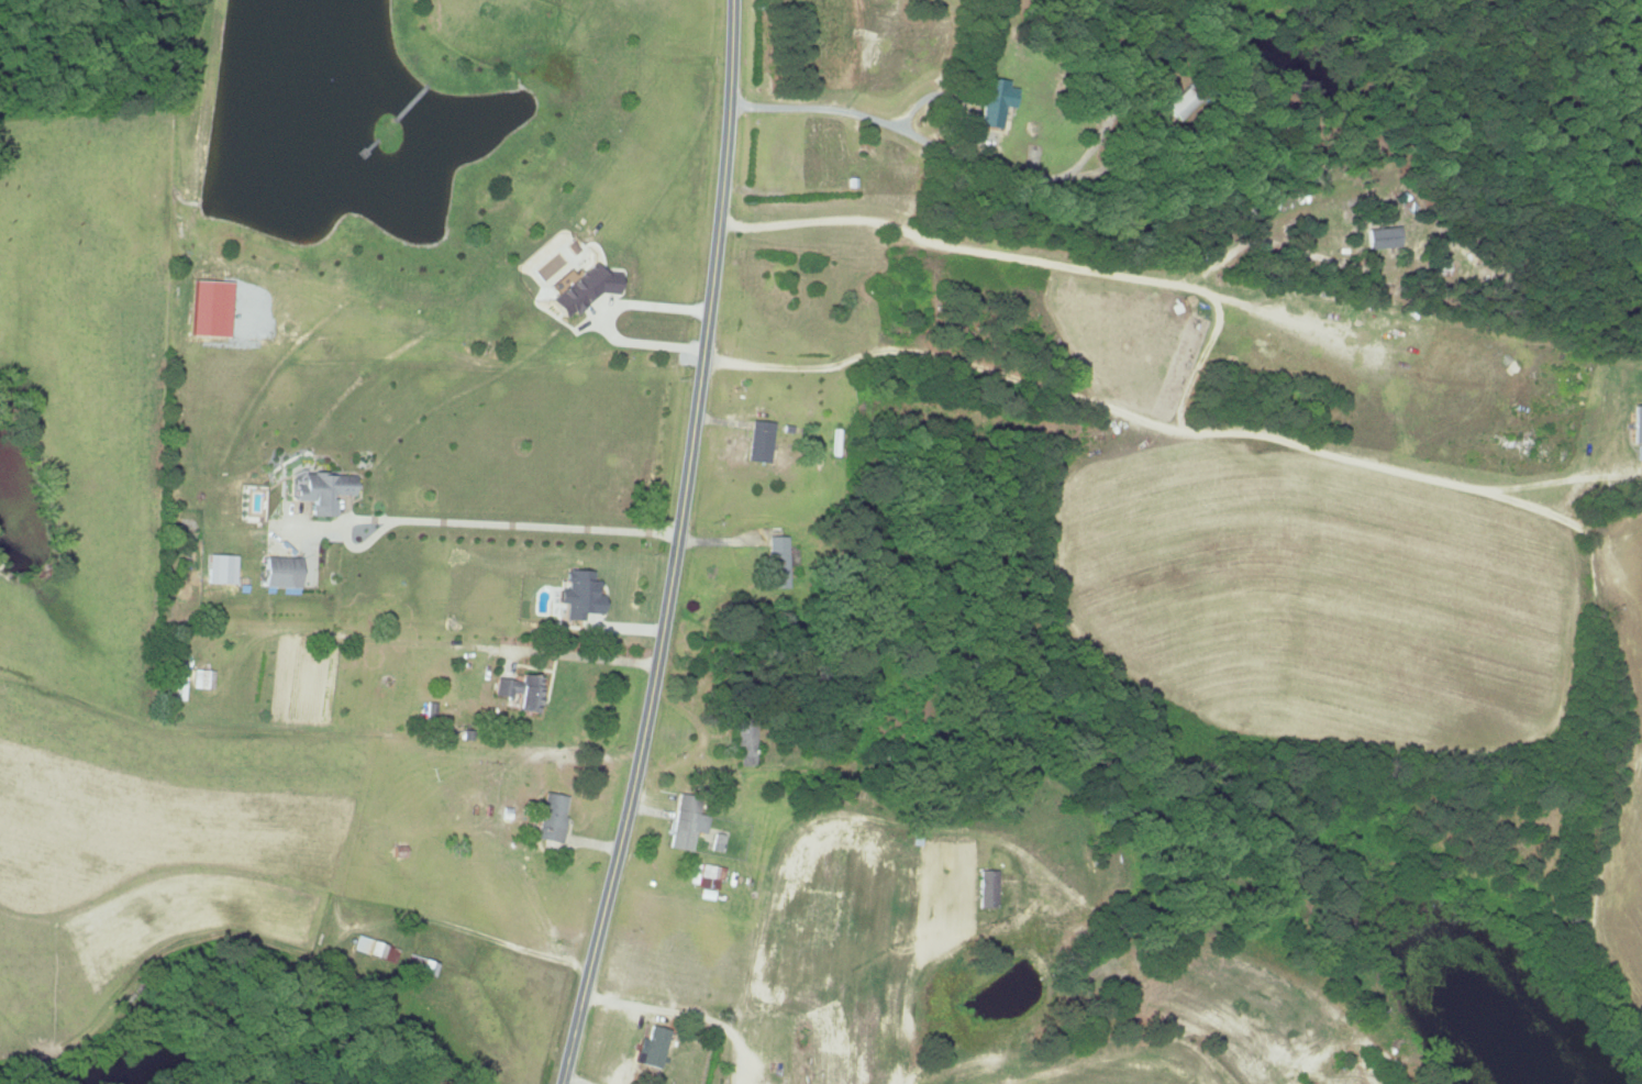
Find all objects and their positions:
building: (997, 101)
road: (1005, 169)
building: (1383, 237)
road: (1032, 259)
building: (581, 289)
building: (208, 308)
road: (609, 320)
road: (1206, 350)
road: (1152, 421)
building: (1638, 424)
building: (761, 434)
building: (322, 491)
road: (514, 523)
road: (673, 546)
building: (279, 573)
building: (579, 596)
road: (436, 640)
building: (201, 678)
building: (520, 693)
building: (745, 743)
building: (552, 818)
building: (686, 822)
road: (794, 833)
building: (717, 842)
building: (710, 876)
building: (987, 889)
road: (466, 931)
road: (684, 1011)
building: (654, 1046)

